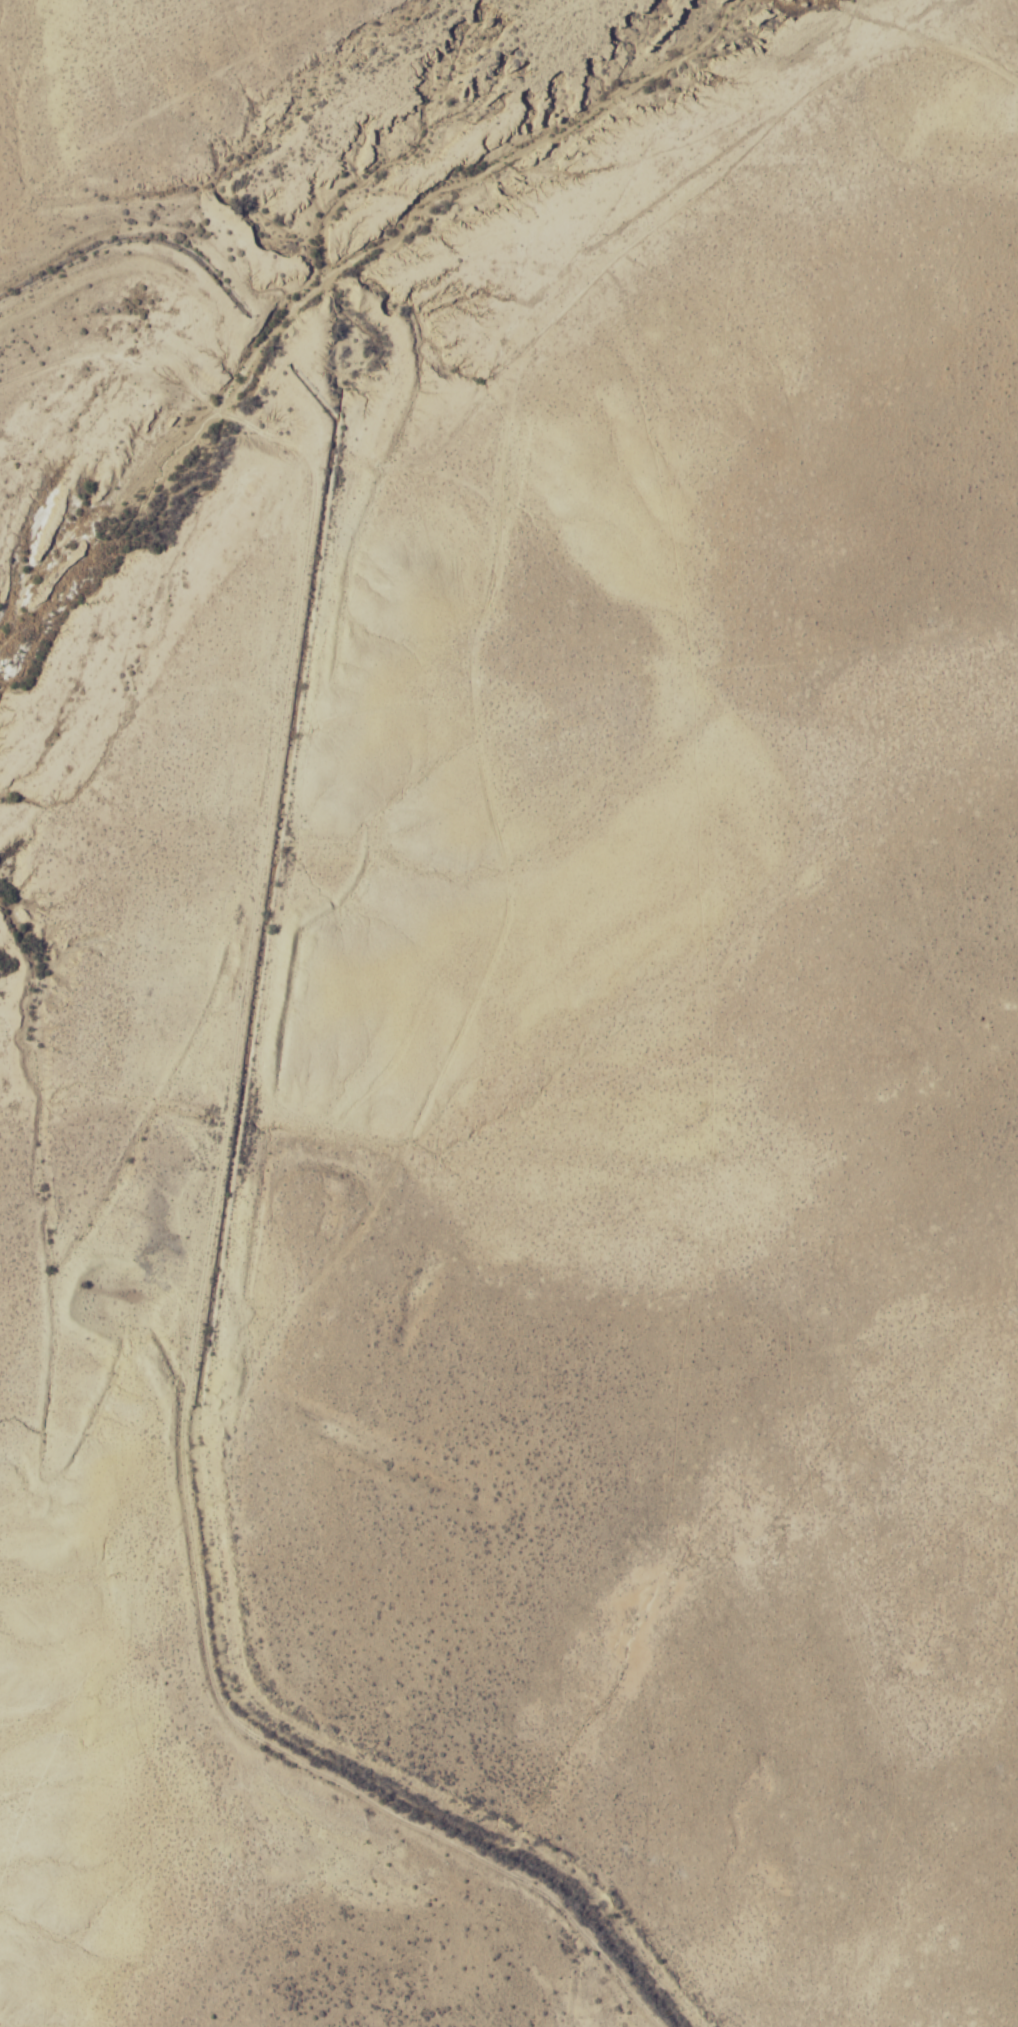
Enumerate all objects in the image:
road: (44, 89)
road: (185, 353)
road: (264, 1344)

